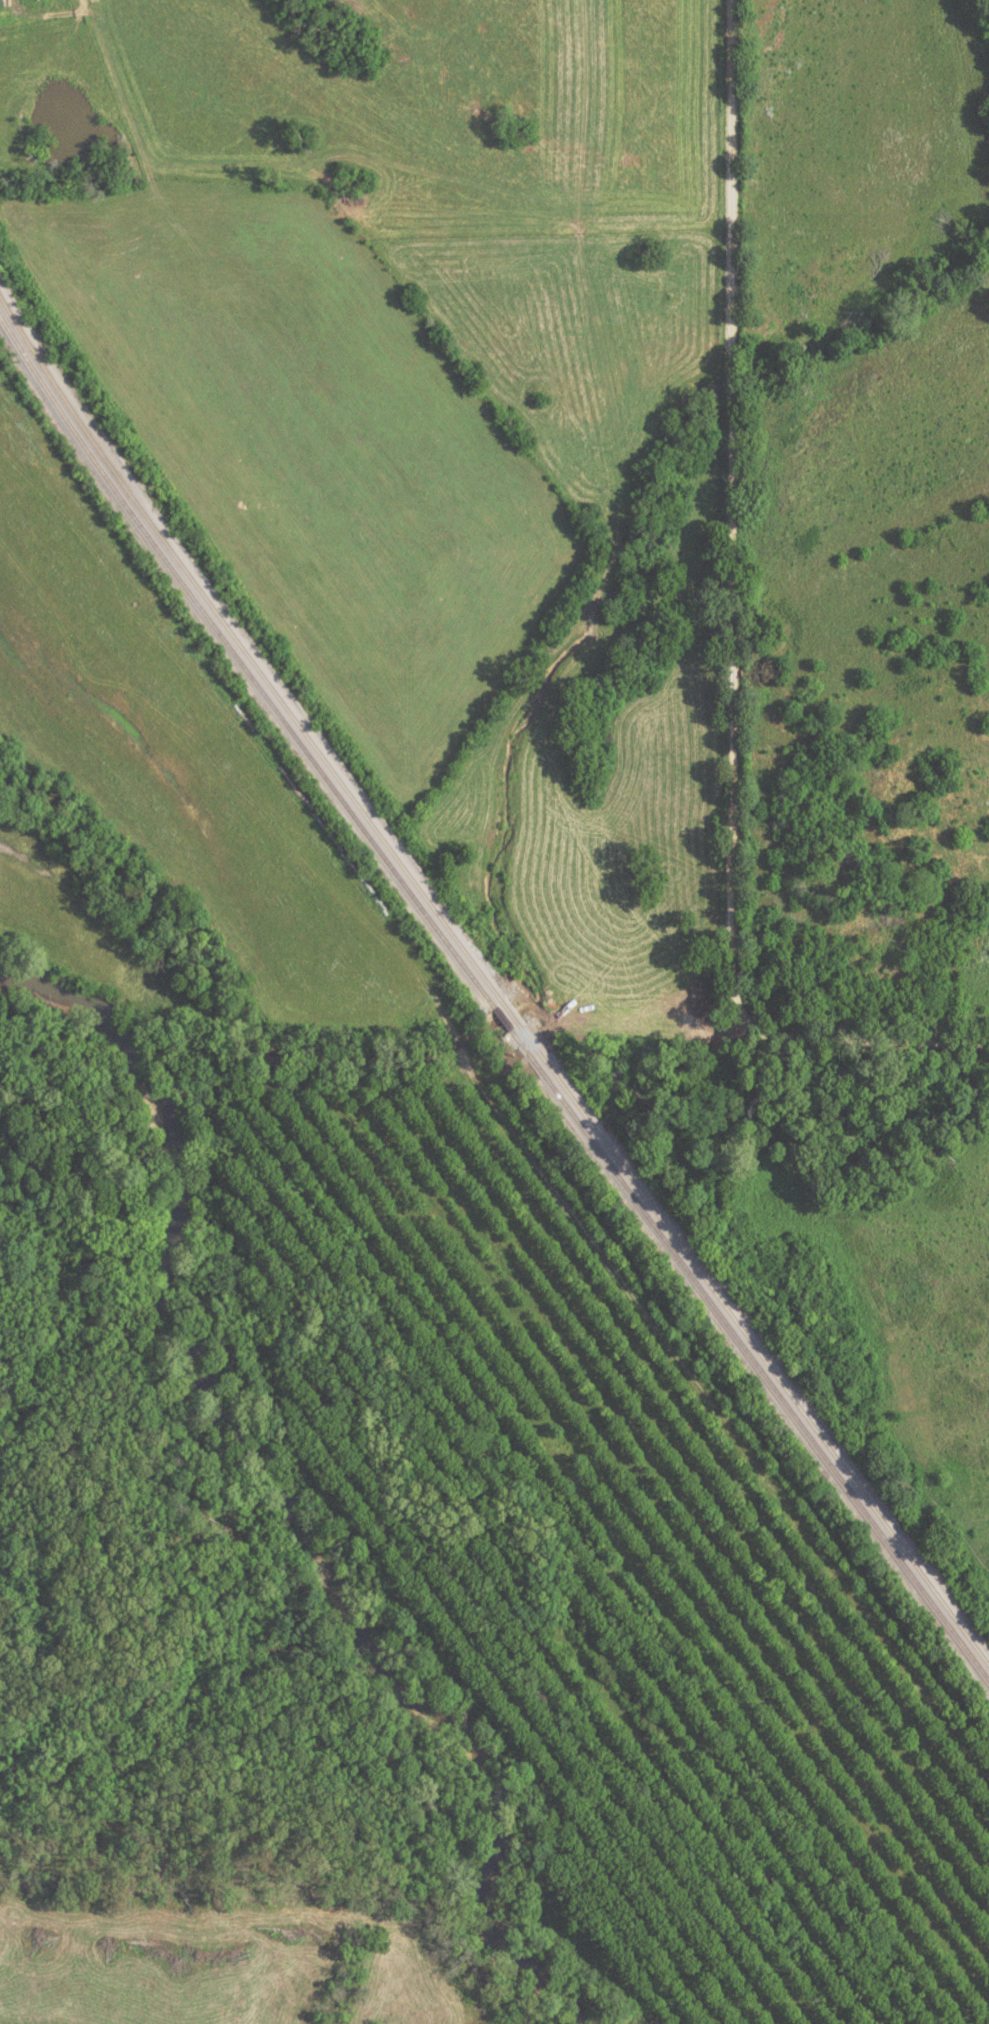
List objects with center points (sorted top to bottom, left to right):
road: (732, 638)
railway: (243, 651)
railway: (241, 664)
railway: (509, 1013)
railway: (499, 1019)
railway: (753, 1345)
railway: (748, 1353)

